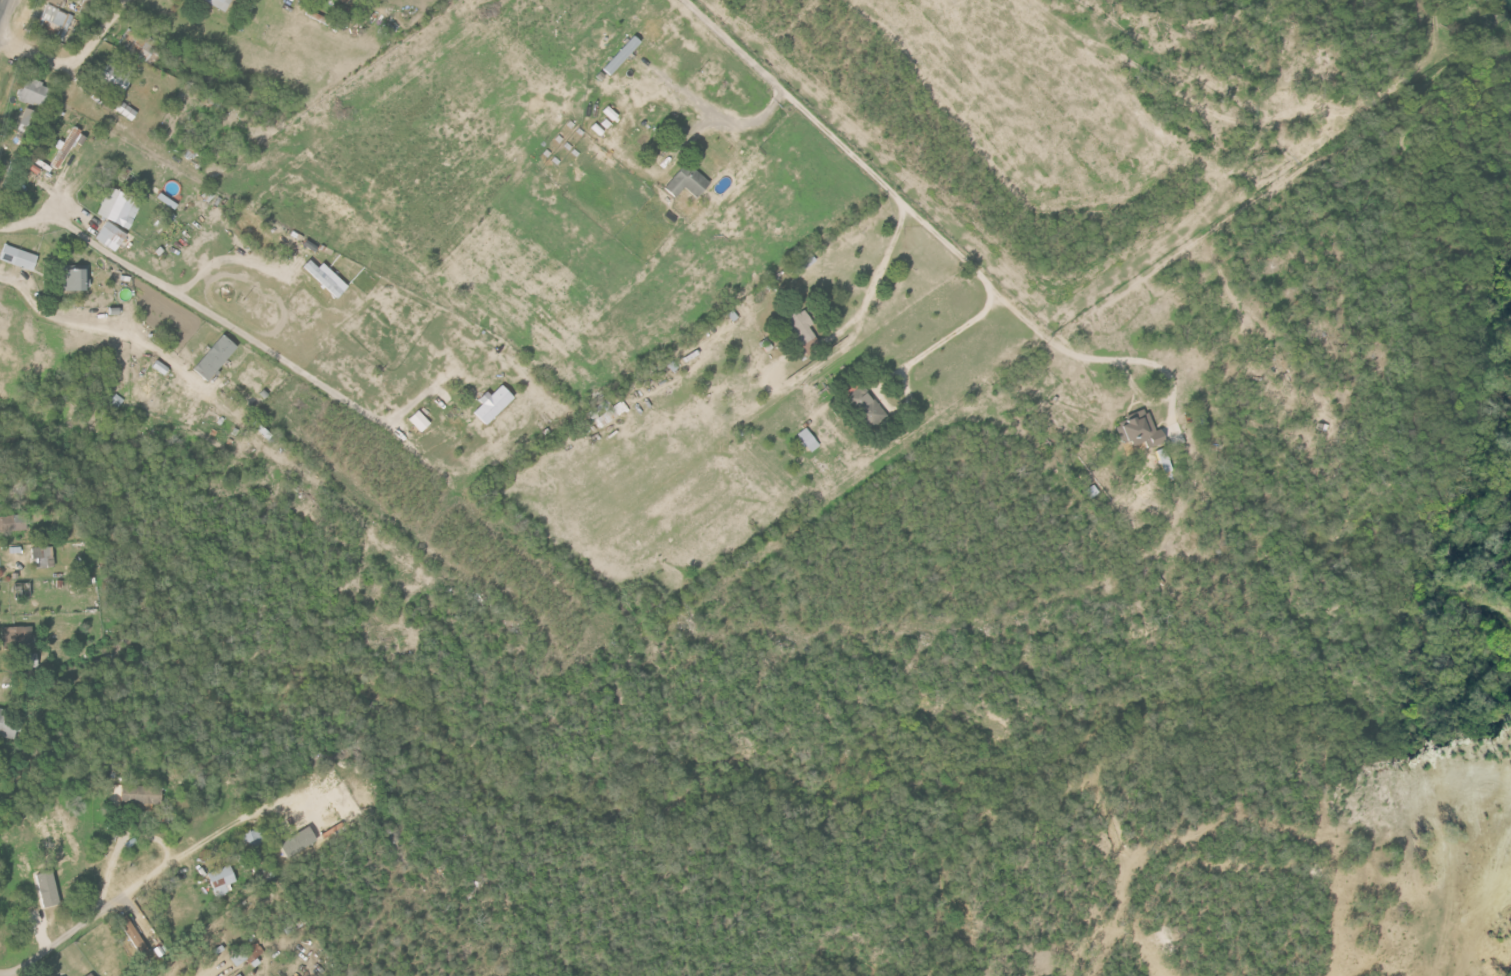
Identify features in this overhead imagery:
building: (345, 1)
road: (2, 4)
building: (221, 4)
building: (54, 22)
building: (138, 44)
building: (623, 55)
road: (72, 62)
building: (115, 79)
building: (36, 92)
building: (127, 111)
building: (612, 114)
road: (719, 117)
building: (30, 118)
road: (838, 143)
building: (65, 149)
building: (689, 181)
building: (120, 207)
building: (111, 235)
building: (20, 257)
road: (229, 257)
road: (885, 267)
building: (328, 278)
building: (76, 279)
road: (200, 304)
building: (803, 325)
road: (94, 327)
road: (952, 338)
building: (216, 358)
road: (1118, 359)
building: (162, 368)
building: (115, 401)
building: (494, 404)
building: (862, 406)
building: (420, 421)
building: (1135, 429)
building: (804, 439)
building: (14, 523)
building: (41, 557)
building: (22, 590)
building: (18, 636)
building: (8, 724)
building: (137, 794)
building: (250, 840)
road: (119, 846)
building: (218, 882)
road: (115, 902)
building: (129, 936)
building: (244, 955)

